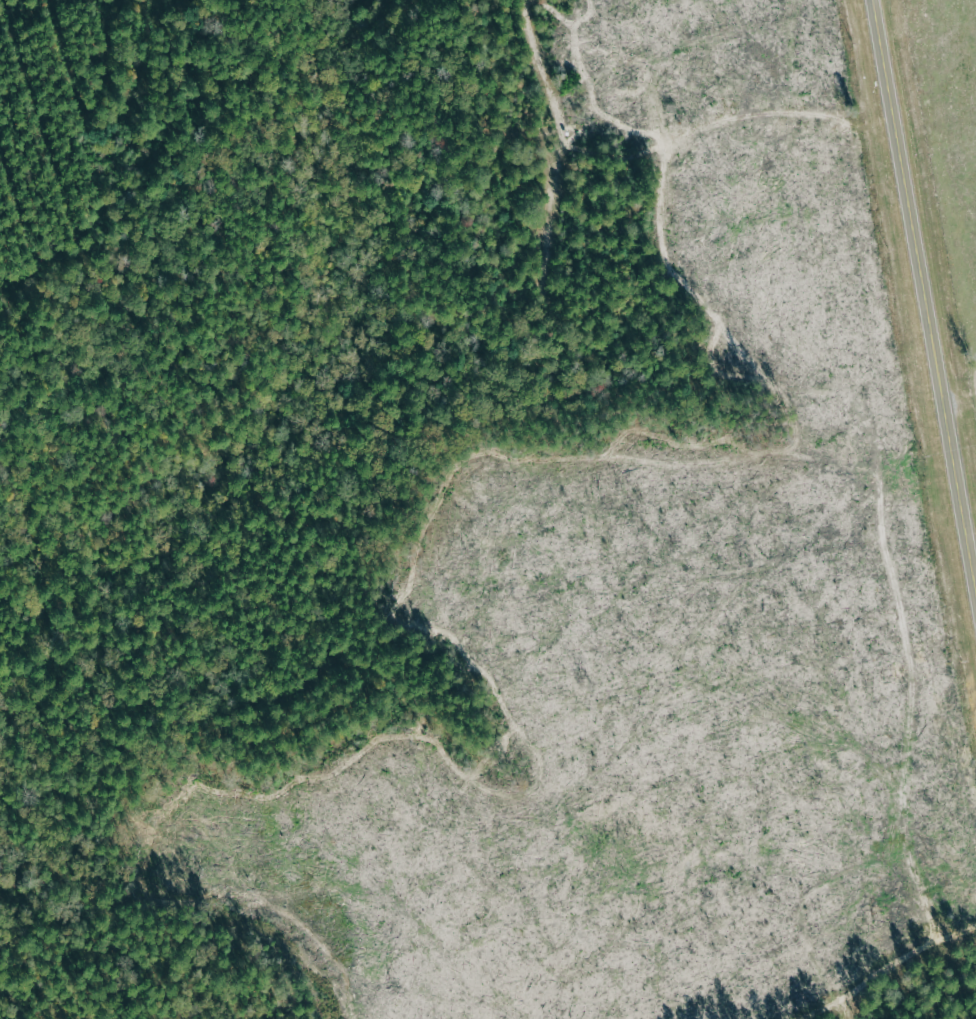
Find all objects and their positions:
road: (924, 292)
road: (960, 403)

